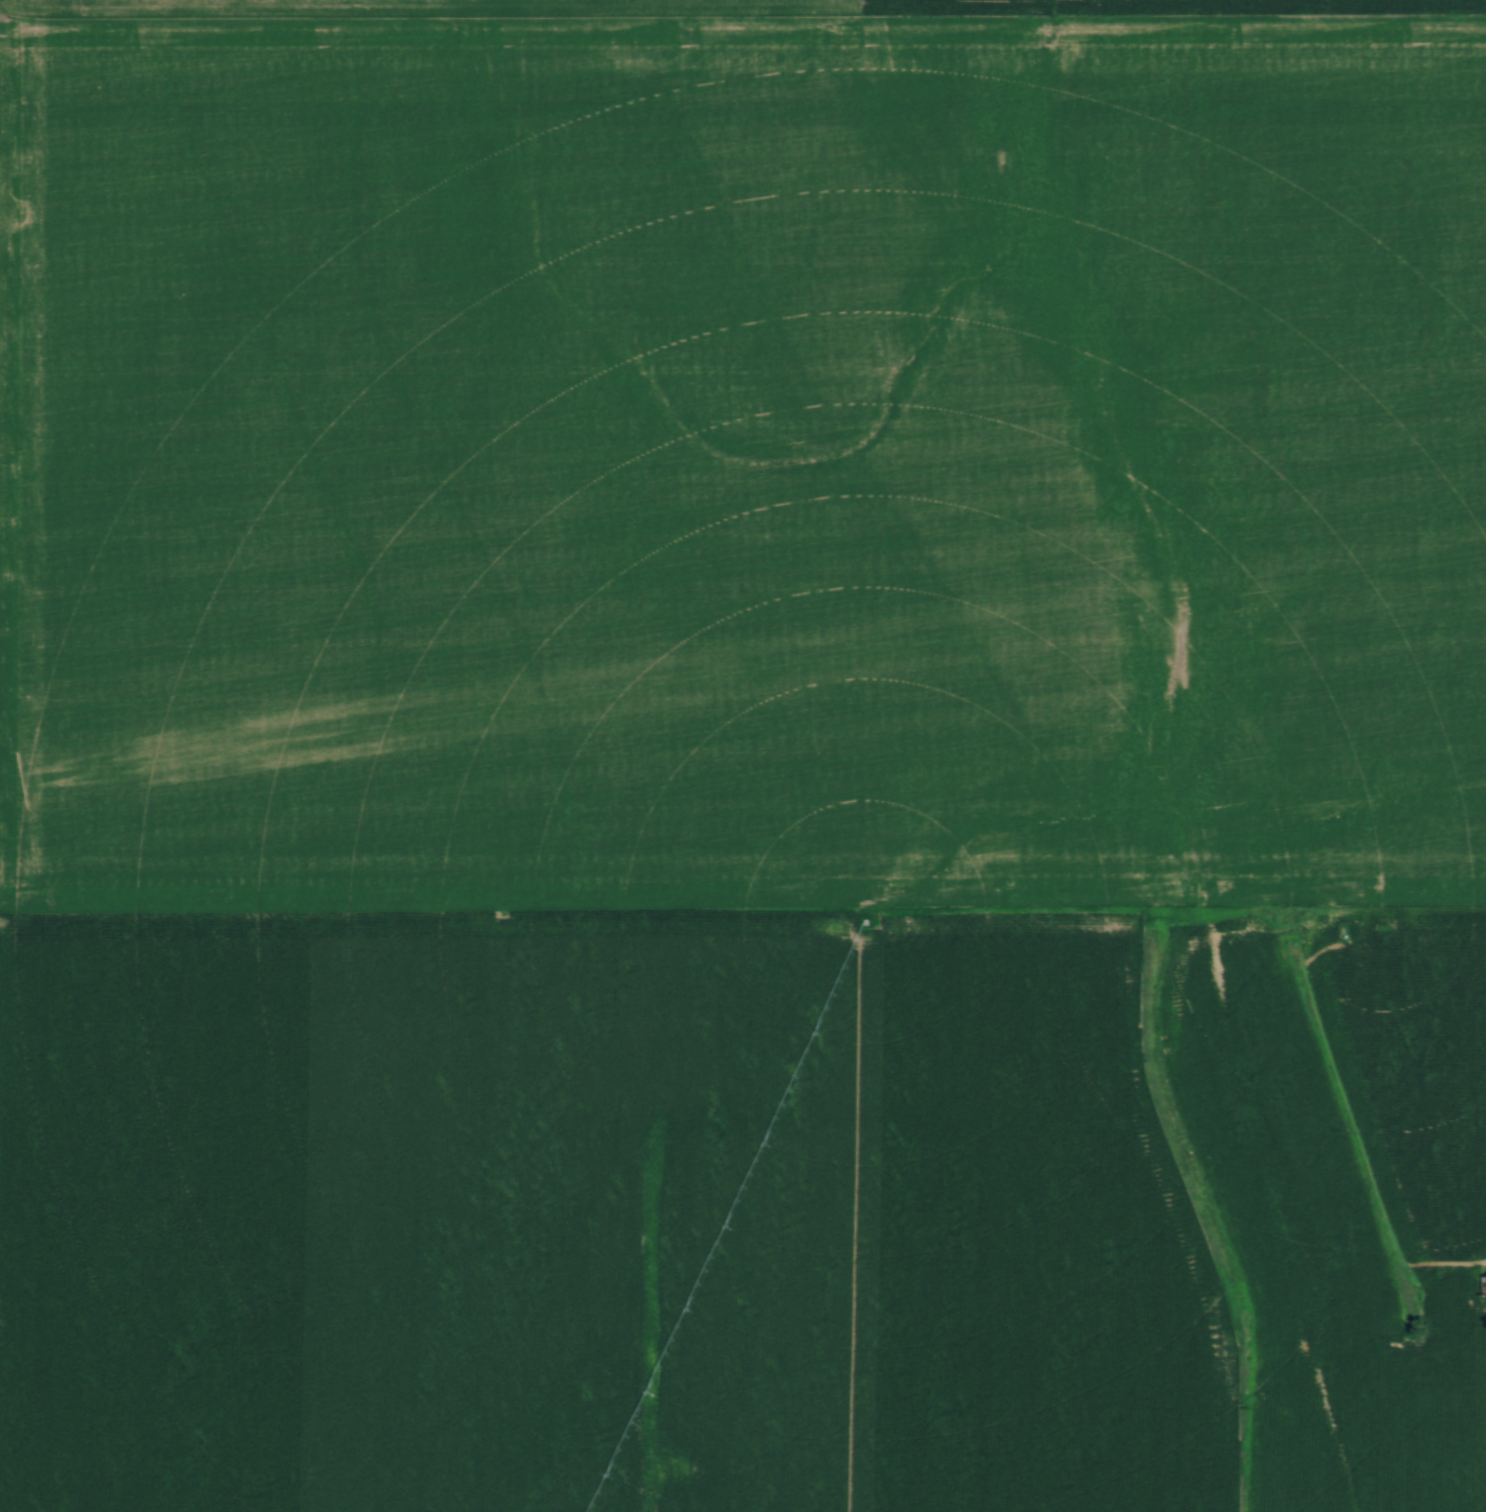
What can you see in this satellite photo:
building: (1484, 1286)

